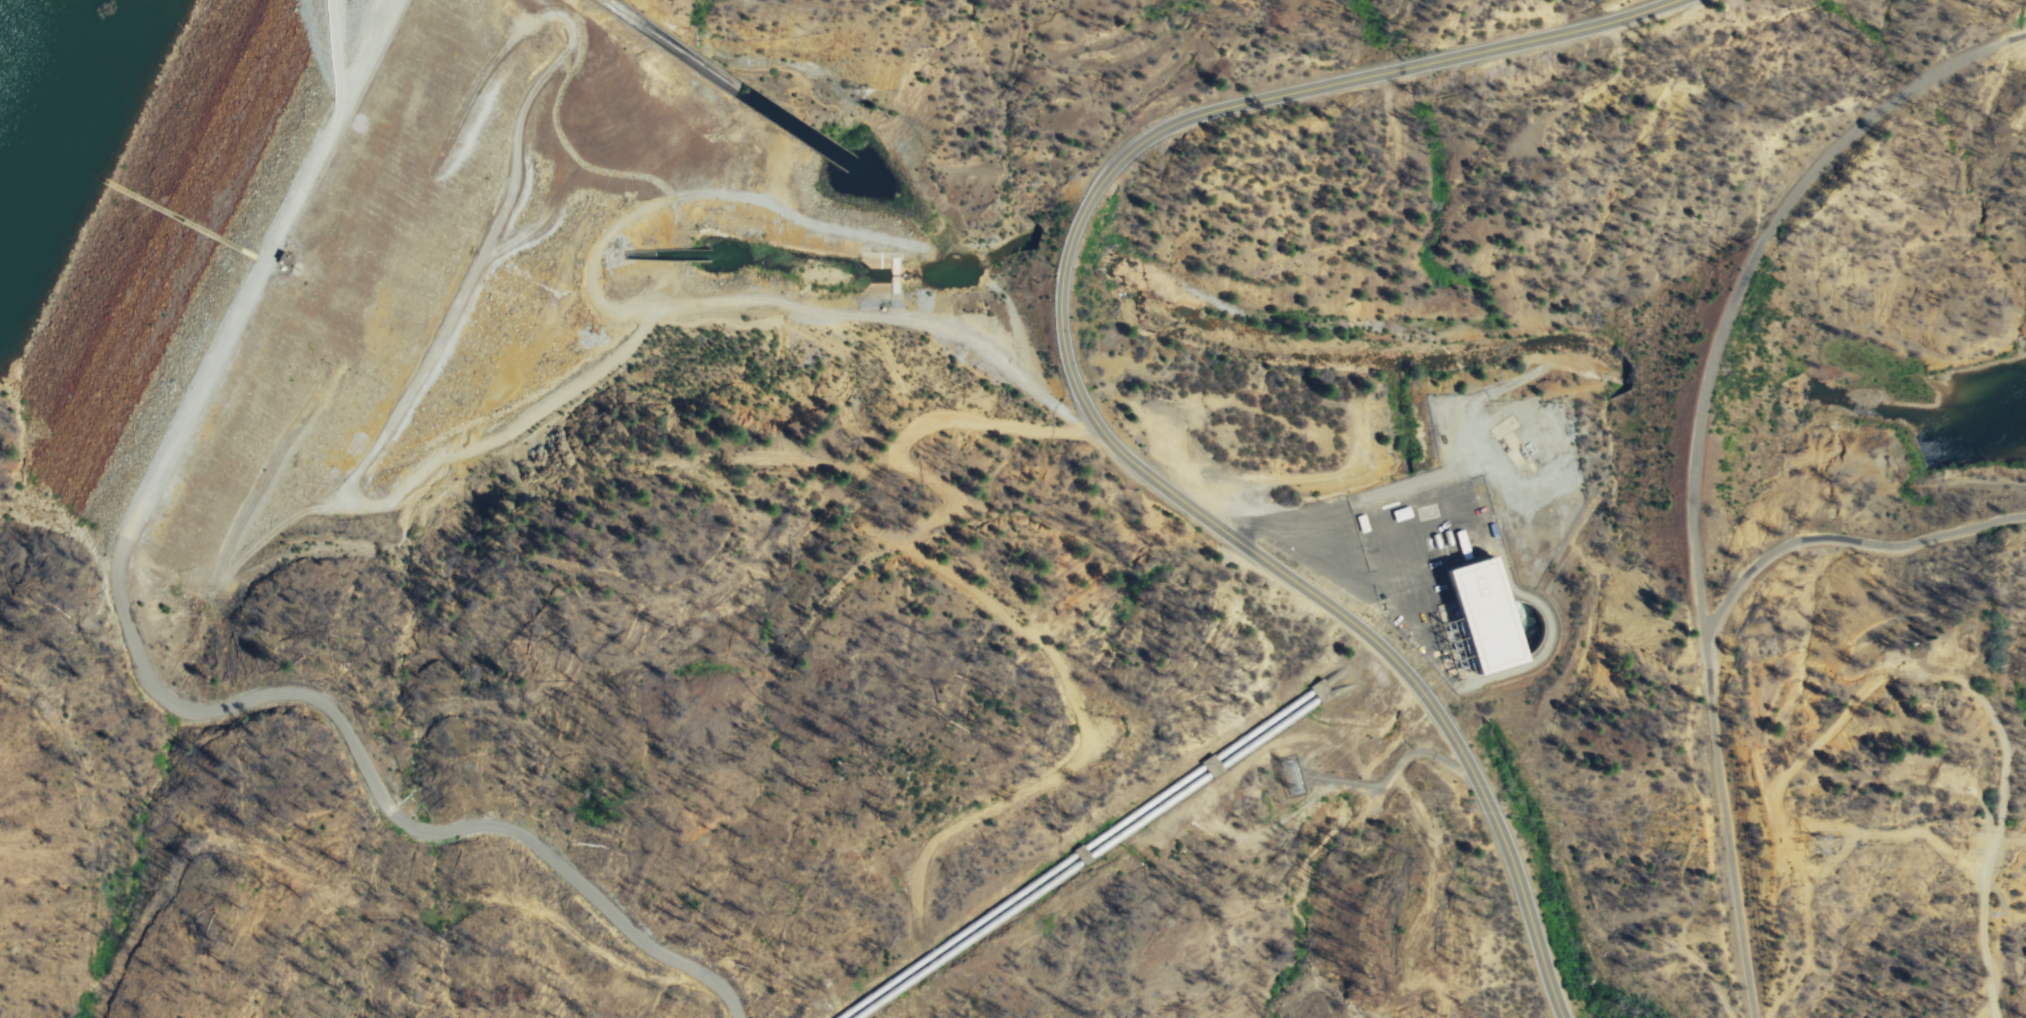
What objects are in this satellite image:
road: (339, 50)
road: (1142, 93)
road: (344, 103)
road: (1753, 265)
dam: (388, 299)
road: (1078, 390)
building: (1472, 511)
road: (1850, 540)
building: (1488, 617)
road: (153, 676)
road: (2006, 763)
power tower: (1295, 781)
road: (1730, 821)
road: (2011, 837)
power tower: (1809, 848)
road: (1987, 897)
road: (1979, 988)

